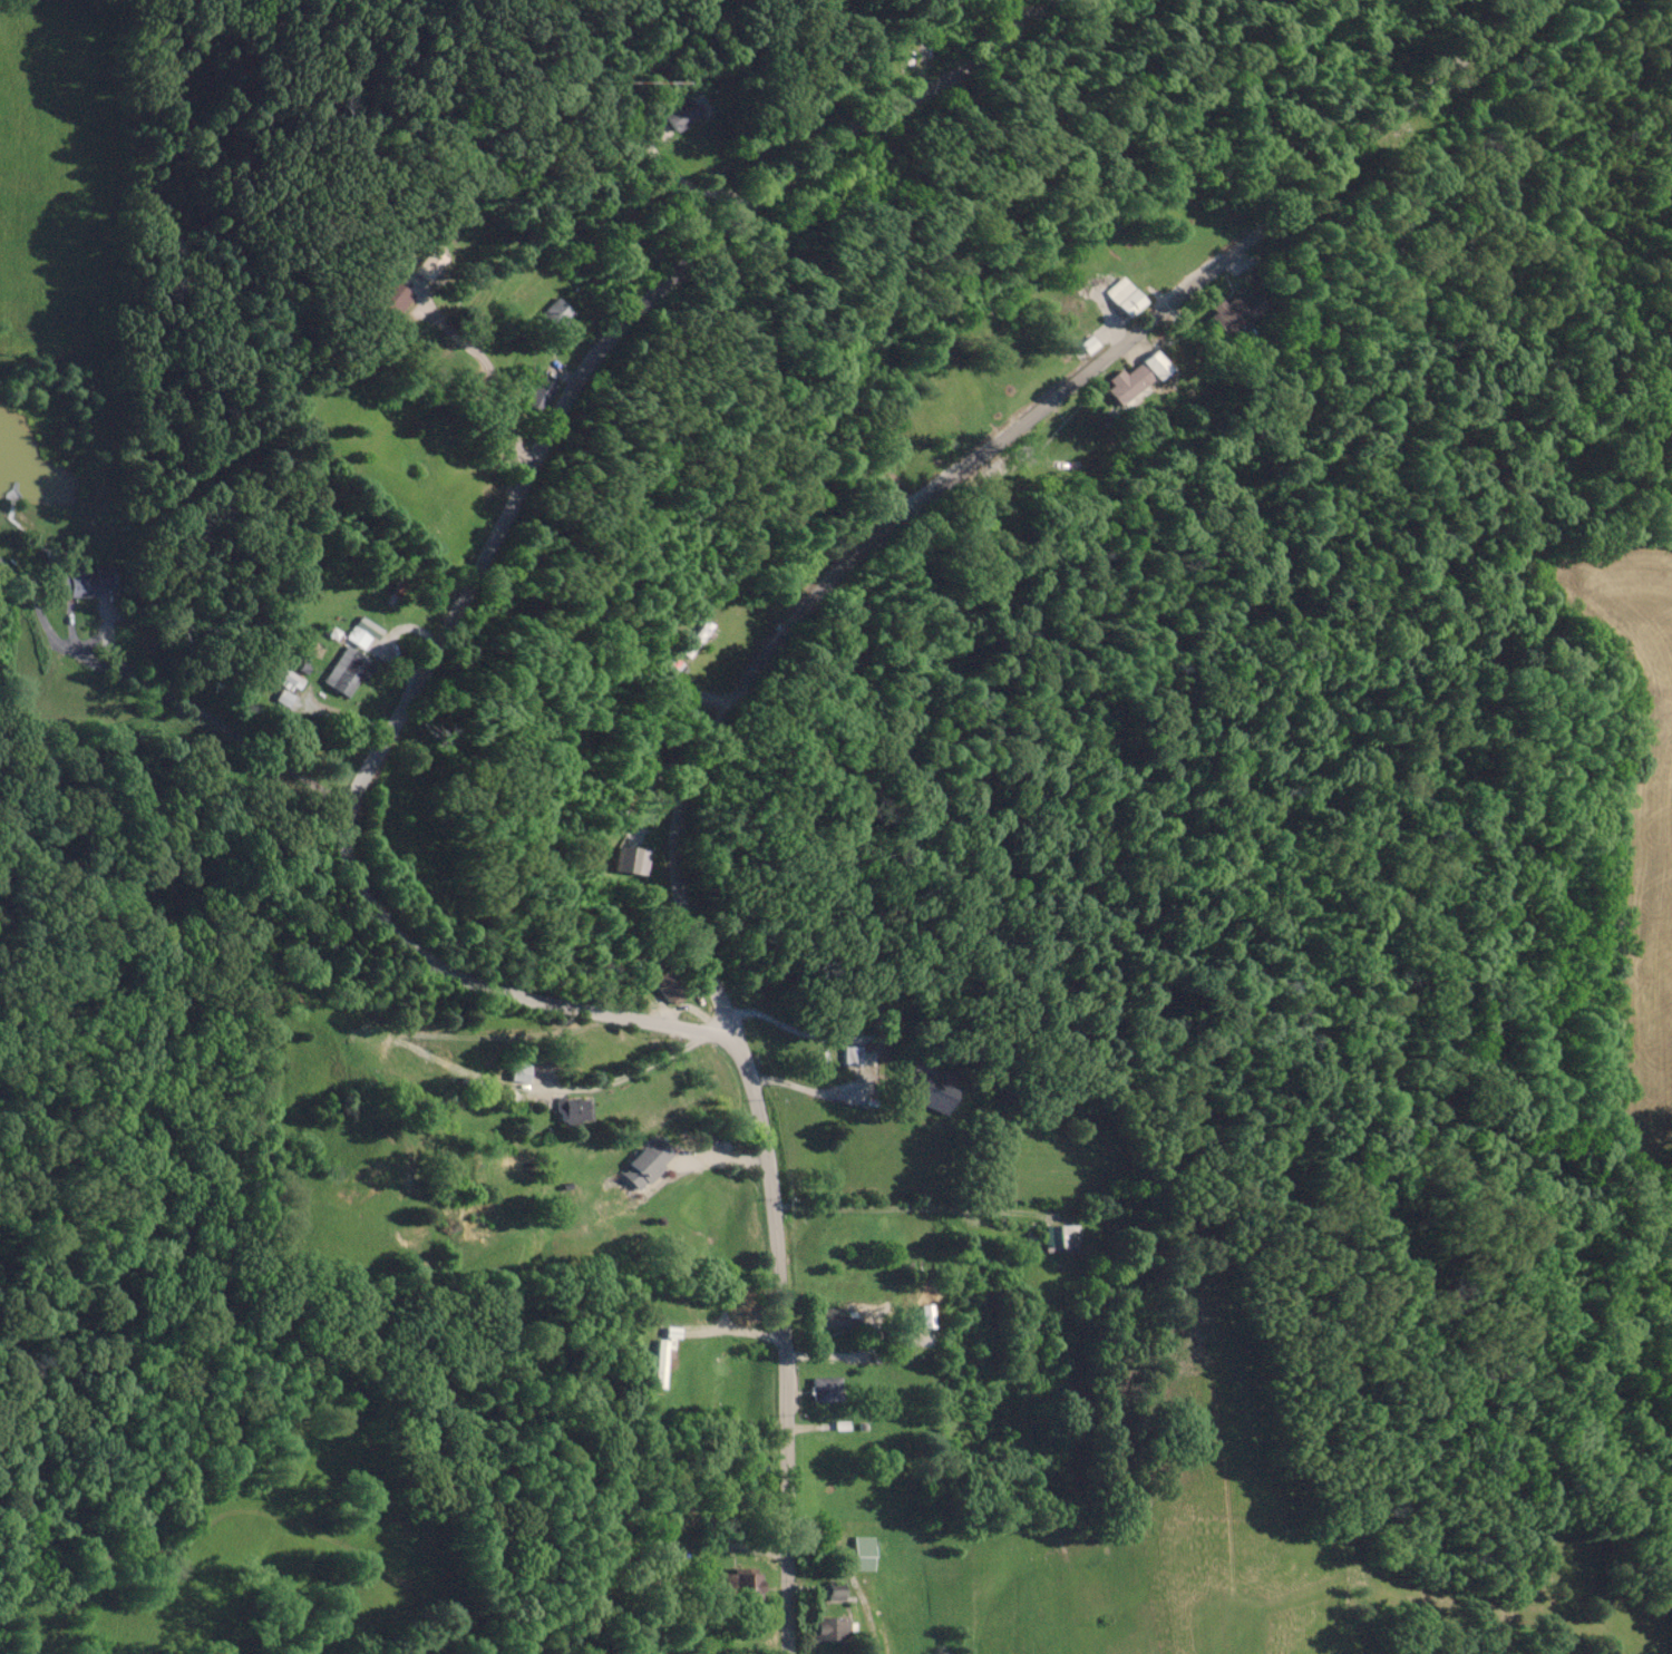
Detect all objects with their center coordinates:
building: (682, 116)
building: (430, 263)
building: (1125, 295)
building: (556, 310)
building: (1236, 310)
road: (621, 329)
building: (1137, 377)
building: (541, 392)
building: (1081, 440)
road: (984, 453)
building: (88, 578)
building: (338, 677)
road: (222, 719)
building: (670, 986)
road: (566, 1004)
building: (857, 1054)
building: (522, 1071)
building: (421, 1074)
building: (941, 1098)
building: (574, 1110)
building: (649, 1164)
road: (891, 1209)
building: (1062, 1235)
building: (742, 1295)
building: (843, 1317)
building: (827, 1387)
road: (786, 1427)
building: (863, 1553)
building: (834, 1592)
building: (834, 1627)

